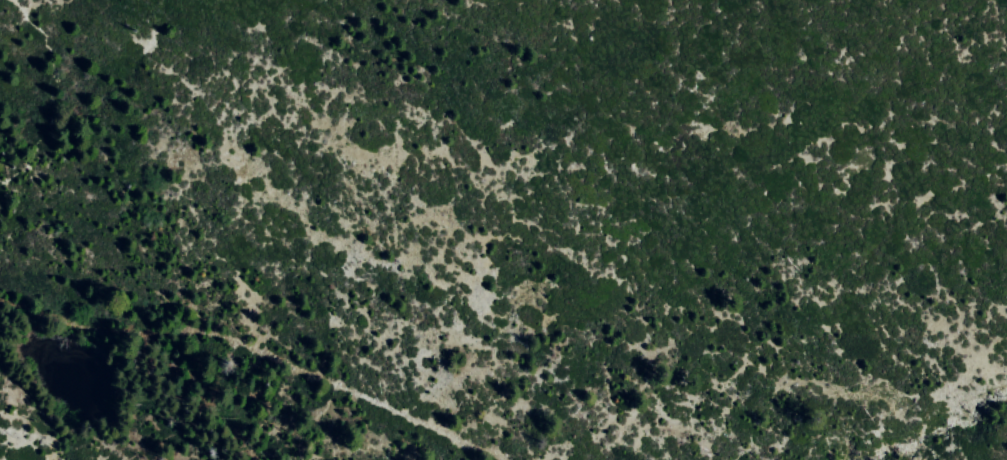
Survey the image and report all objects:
road: (231, 352)

